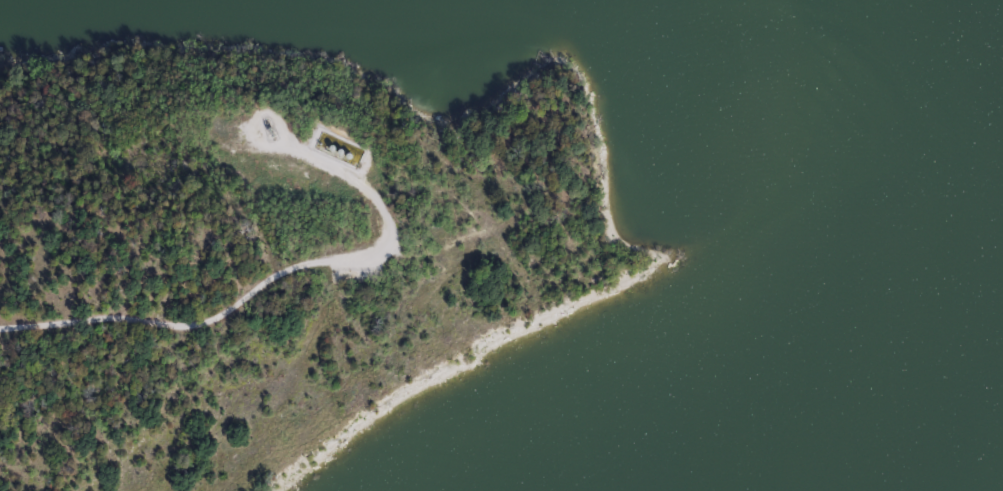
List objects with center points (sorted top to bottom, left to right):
park: (440, 239)
road: (277, 275)

